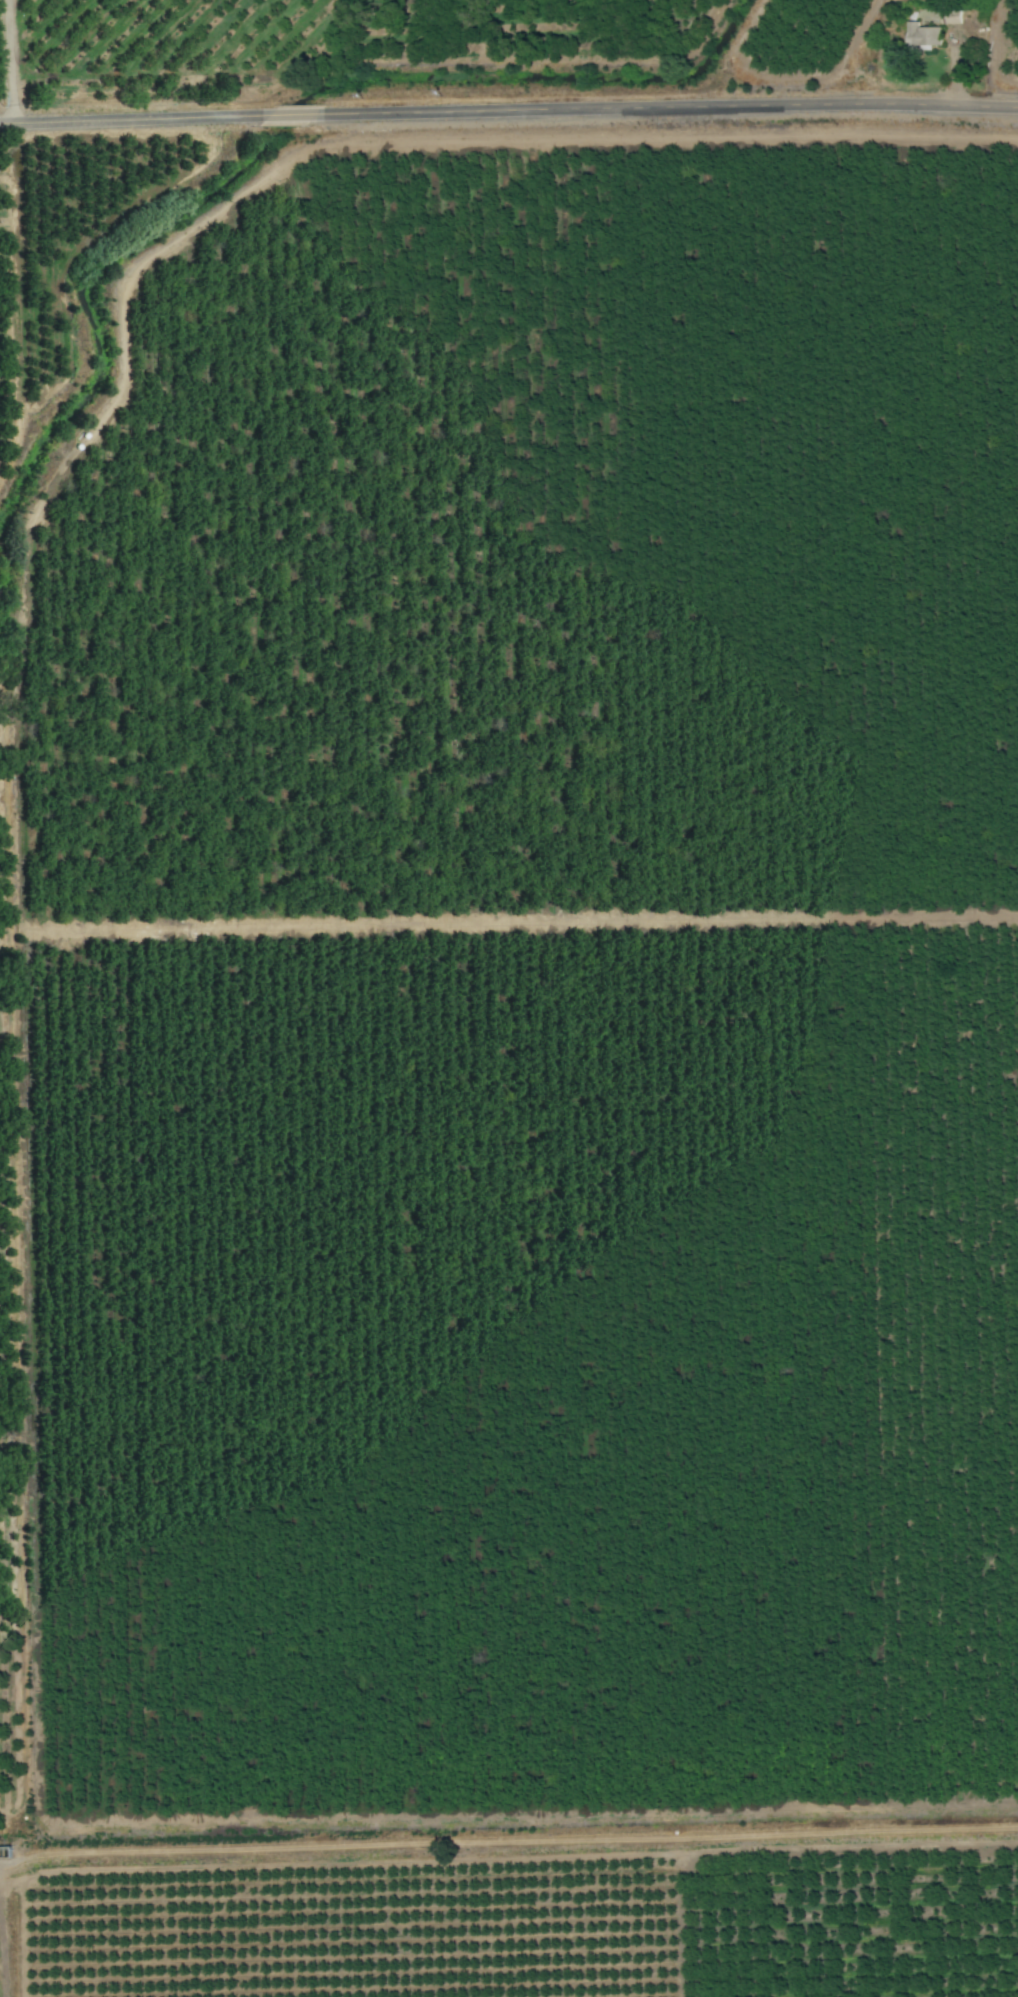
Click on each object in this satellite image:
building: (923, 33)
road: (9, 61)
road: (674, 107)
road: (284, 115)
road: (118, 120)

